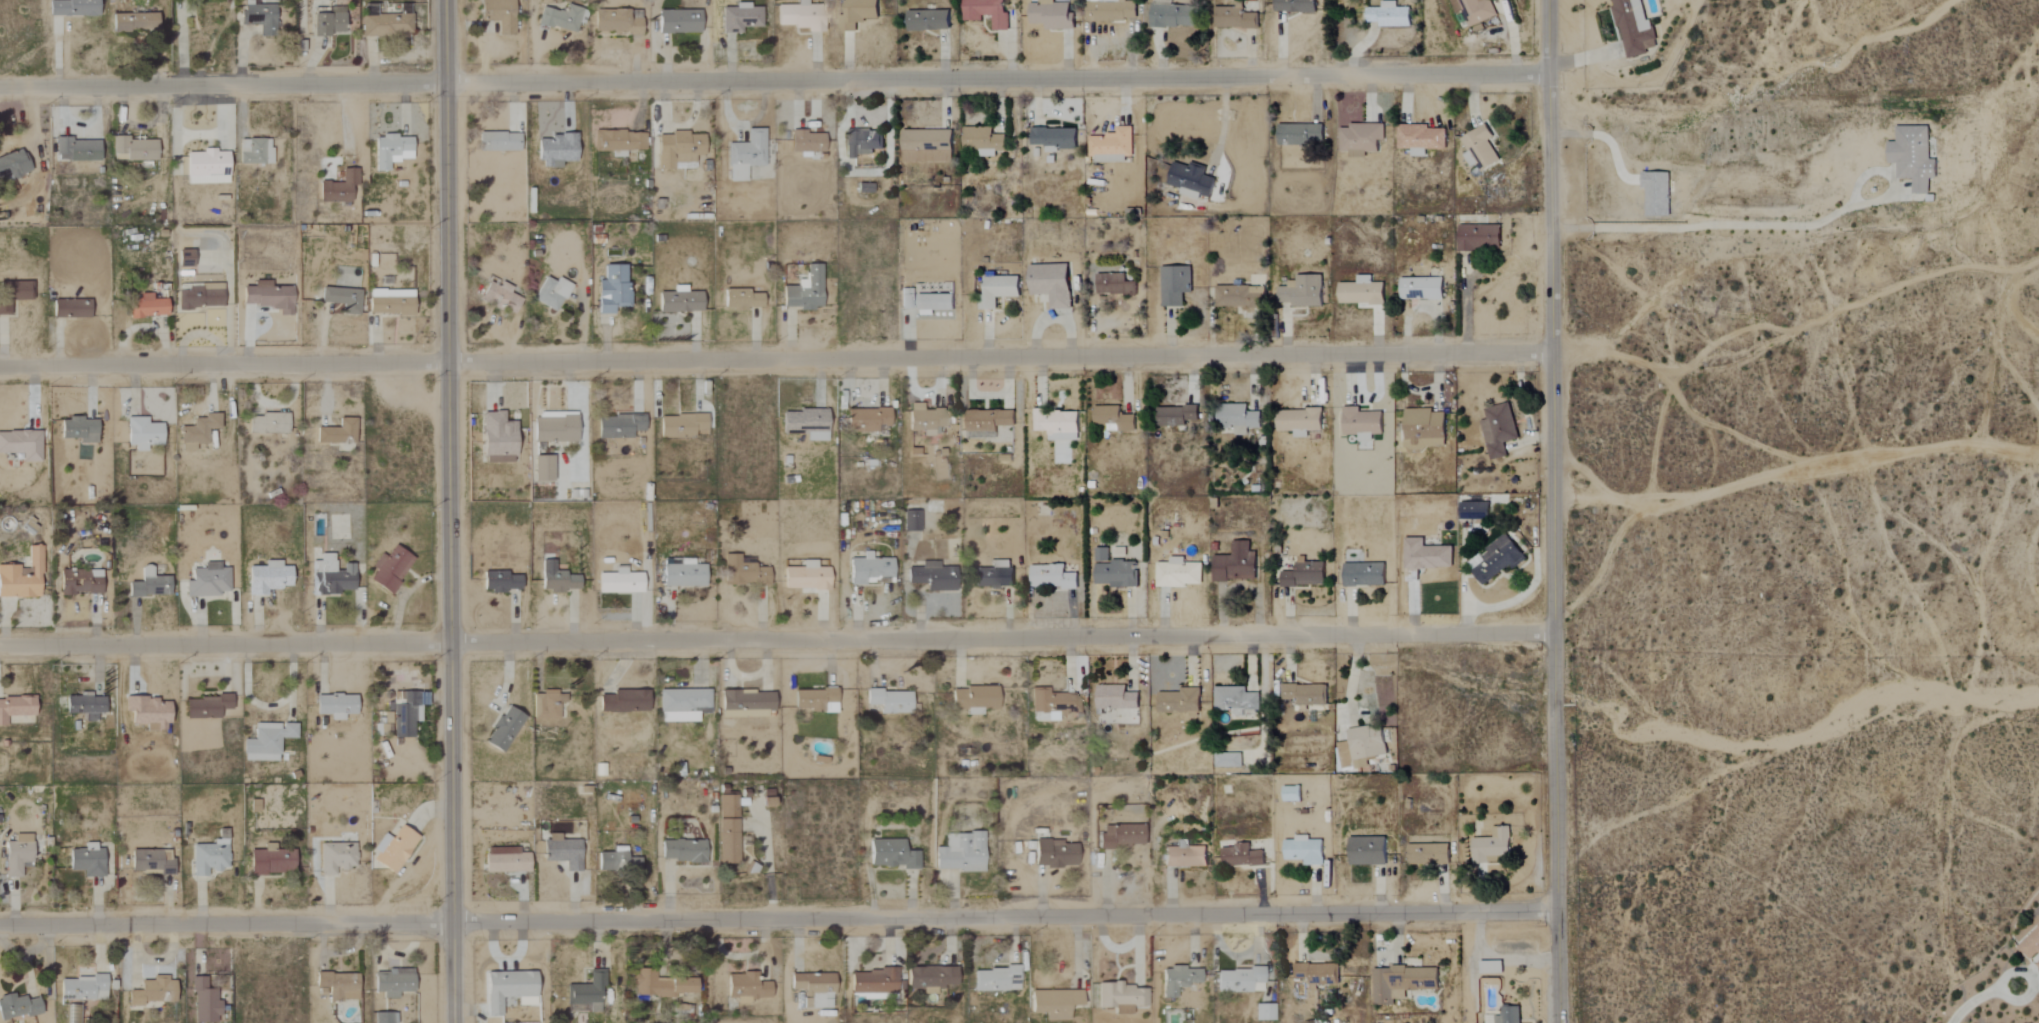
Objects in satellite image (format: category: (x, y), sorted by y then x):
building: (1295, 6)
building: (72, 8)
building: (1475, 10)
building: (1117, 11)
building: (986, 12)
building: (856, 13)
building: (498, 14)
building: (1389, 15)
building: (800, 16)
building: (1173, 16)
building: (1234, 16)
building: (260, 18)
building: (561, 18)
building: (739, 18)
building: (928, 20)
building: (616, 21)
building: (678, 21)
building: (133, 22)
building: (327, 23)
building: (387, 23)
building: (1633, 27)
road: (774, 82)
building: (1299, 134)
building: (1054, 139)
building: (1360, 139)
building: (1421, 139)
building: (619, 141)
building: (982, 141)
building: (498, 142)
building: (807, 142)
building: (860, 142)
building: (926, 146)
building: (1112, 146)
building: (1480, 148)
building: (133, 149)
building: (76, 150)
building: (390, 150)
building: (557, 150)
building: (678, 150)
building: (254, 151)
building: (745, 155)
building: (1912, 156)
building: (12, 164)
building: (207, 167)
building: (1191, 180)
building: (338, 188)
building: (1656, 194)
road: (1765, 226)
building: (1477, 237)
building: (185, 258)
building: (1051, 284)
building: (1114, 285)
building: (1174, 285)
building: (15, 289)
building: (611, 289)
building: (1421, 289)
building: (804, 291)
building: (998, 291)
building: (1302, 292)
building: (1361, 292)
building: (551, 293)
building: (201, 294)
building: (500, 296)
building: (1239, 296)
building: (267, 297)
building: (342, 298)
building: (907, 298)
building: (743, 299)
building: (679, 301)
building: (390, 302)
building: (146, 306)
building: (70, 309)
road: (776, 361)
building: (1176, 415)
building: (1113, 418)
building: (1238, 418)
building: (867, 420)
building: (925, 420)
building: (988, 422)
building: (1299, 422)
building: (270, 423)
building: (807, 423)
building: (1362, 423)
building: (1057, 424)
building: (681, 425)
building: (619, 426)
building: (78, 429)
building: (555, 429)
building: (1498, 429)
building: (1424, 430)
building: (197, 432)
building: (141, 433)
building: (337, 433)
building: (497, 438)
building: (21, 445)
building: (542, 469)
road: (452, 511)
building: (1473, 511)
road: (1554, 511)
building: (911, 521)
building: (1425, 555)
building: (1497, 559)
building: (1235, 564)
building: (390, 569)
building: (868, 569)
building: (1113, 571)
building: (744, 572)
building: (1177, 574)
building: (684, 575)
building: (1304, 575)
building: (1363, 575)
building: (330, 576)
building: (993, 576)
building: (22, 577)
building: (806, 577)
building: (932, 577)
building: (1051, 577)
building: (267, 578)
building: (557, 579)
building: (207, 582)
building: (499, 582)
building: (619, 582)
building: (79, 583)
building: (148, 584)
road: (778, 642)
building: (1304, 696)
building: (1116, 698)
building: (814, 699)
building: (974, 699)
building: (683, 701)
building: (890, 701)
building: (624, 702)
building: (1179, 702)
building: (747, 704)
building: (1053, 704)
building: (546, 705)
building: (85, 706)
building: (335, 706)
building: (205, 707)
building: (15, 708)
building: (147, 713)
building: (405, 715)
building: (386, 722)
building: (504, 729)
building: (266, 741)
building: (1366, 745)
building: (1344, 755)
building: (1227, 760)
building: (1291, 794)
building: (767, 798)
building: (727, 829)
building: (1121, 836)
building: (1492, 848)
building: (395, 849)
building: (1367, 850)
building: (683, 851)
building: (1303, 851)
building: (562, 852)
building: (960, 853)
building: (1055, 854)
building: (1428, 854)
building: (17, 855)
building: (892, 855)
building: (1184, 855)
building: (1241, 856)
building: (208, 857)
building: (336, 858)
building: (87, 861)
building: (152, 861)
building: (506, 861)
building: (617, 861)
building: (272, 862)
road: (778, 921)
building: (2031, 946)
building: (1491, 968)
building: (1316, 974)
building: (931, 977)
building: (997, 978)
building: (1179, 978)
building: (1240, 979)
building: (873, 980)
building: (1402, 981)
building: (393, 983)
building: (660, 984)
building: (338, 986)
building: (747, 987)
building: (84, 988)
building: (814, 988)
building: (507, 989)
building: (152, 992)
building: (586, 992)
road: (2027, 994)
building: (1120, 996)
building: (204, 1002)
road: (1972, 1002)
building: (1054, 1003)
building: (17, 1007)
building: (1264, 1013)
building: (1508, 1015)
building: (384, 1018)

